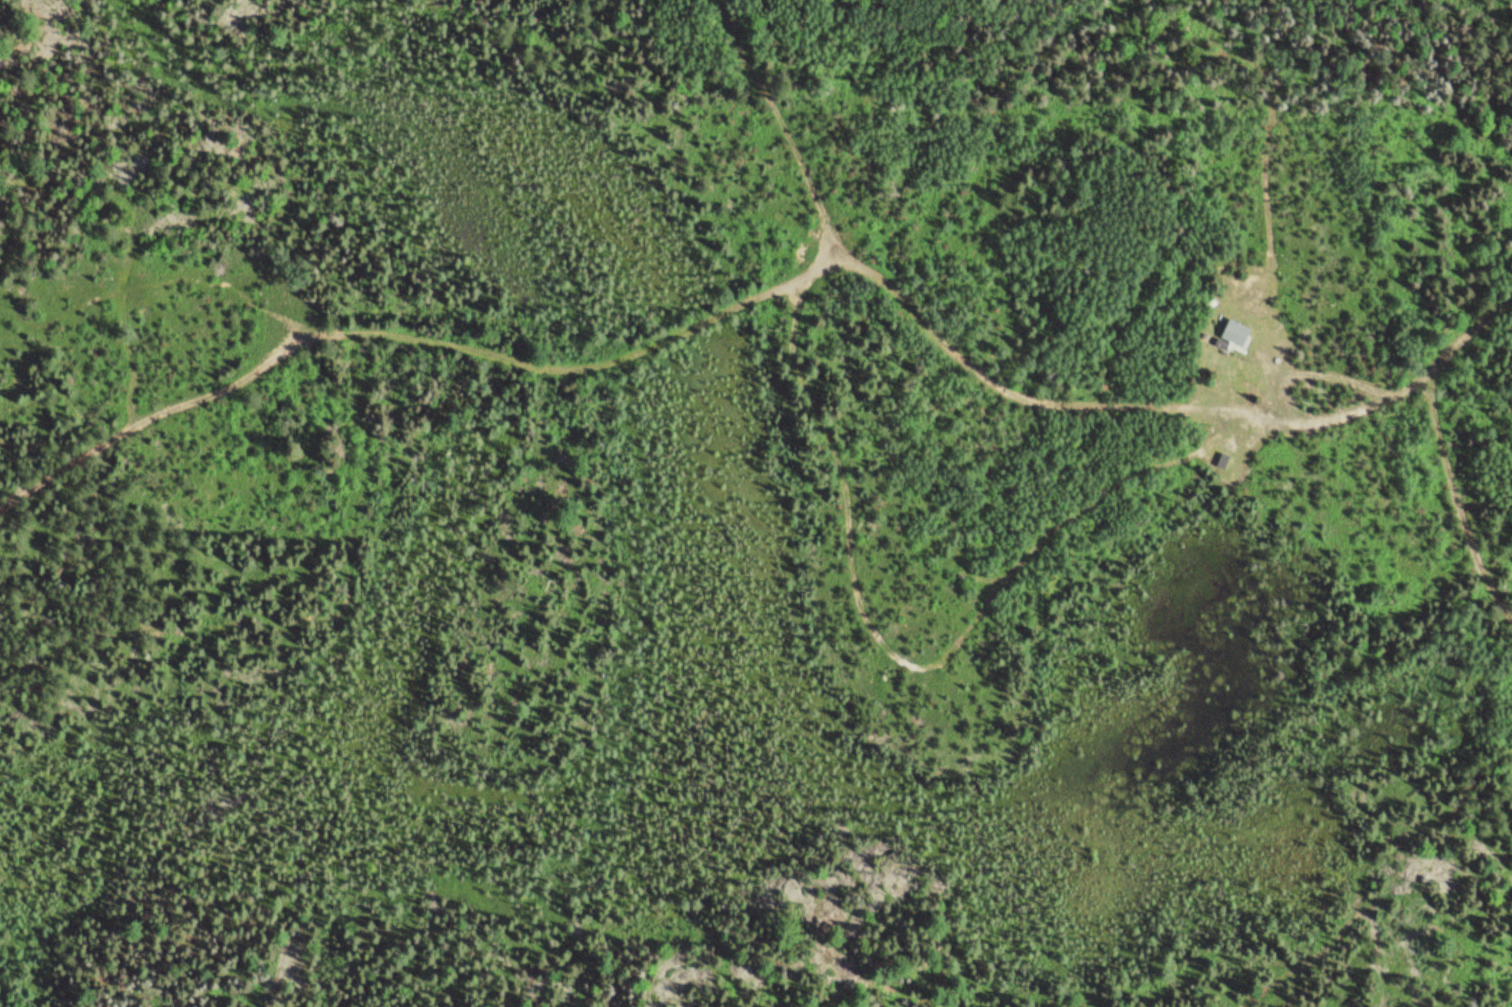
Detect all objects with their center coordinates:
building: (1240, 331)
road: (635, 348)

